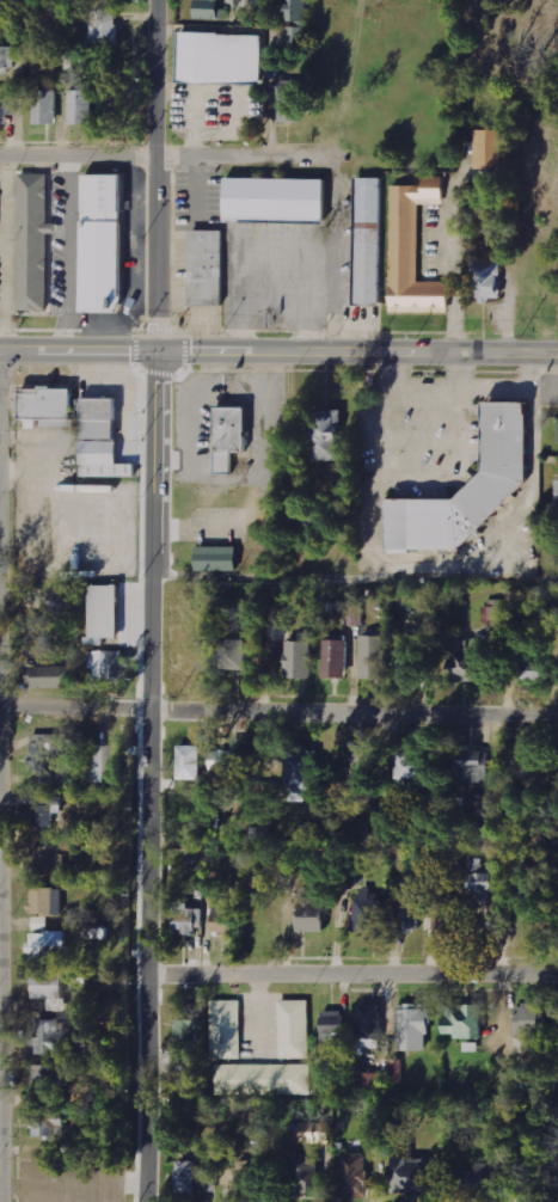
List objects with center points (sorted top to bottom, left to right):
building: (208, 8)
building: (298, 10)
building: (105, 25)
building: (296, 36)
building: (7, 57)
building: (221, 57)
building: (290, 100)
building: (6, 105)
building: (45, 106)
building: (82, 106)
building: (489, 149)
road: (157, 159)
road: (157, 173)
building: (277, 200)
building: (364, 241)
building: (31, 243)
building: (100, 244)
building: (411, 250)
building: (208, 269)
building: (488, 280)
traffic signals: (157, 349)
road: (278, 350)
building: (49, 405)
building: (100, 418)
building: (225, 435)
building: (327, 435)
building: (102, 458)
building: (465, 486)
building: (557, 495)
building: (320, 515)
building: (219, 558)
road: (355, 575)
building: (61, 602)
building: (105, 611)
building: (493, 614)
building: (354, 615)
building: (238, 654)
building: (374, 656)
building: (336, 658)
building: (300, 660)
building: (466, 660)
building: (412, 661)
building: (110, 668)
building: (536, 670)
building: (51, 676)
road: (278, 715)
building: (43, 758)
building: (189, 762)
building: (105, 763)
building: (474, 763)
building: (222, 765)
building: (418, 768)
building: (301, 772)
building: (366, 772)
road: (149, 775)
building: (554, 792)
building: (43, 812)
building: (49, 858)
building: (483, 881)
building: (48, 901)
building: (369, 914)
building: (405, 916)
building: (189, 918)
building: (225, 918)
building: (312, 918)
building: (49, 943)
road: (352, 970)
building: (50, 989)
building: (465, 1020)
building: (532, 1020)
building: (186, 1024)
building: (333, 1026)
building: (370, 1026)
building: (415, 1028)
building: (226, 1029)
building: (294, 1029)
building: (49, 1038)
building: (397, 1071)
building: (47, 1079)
building: (263, 1079)
building: (372, 1081)
building: (48, 1124)
building: (315, 1133)
building: (305, 1173)
building: (355, 1175)
building: (413, 1176)
building: (241, 1177)
building: (194, 1178)
building: (474, 1183)
building: (528, 1192)

